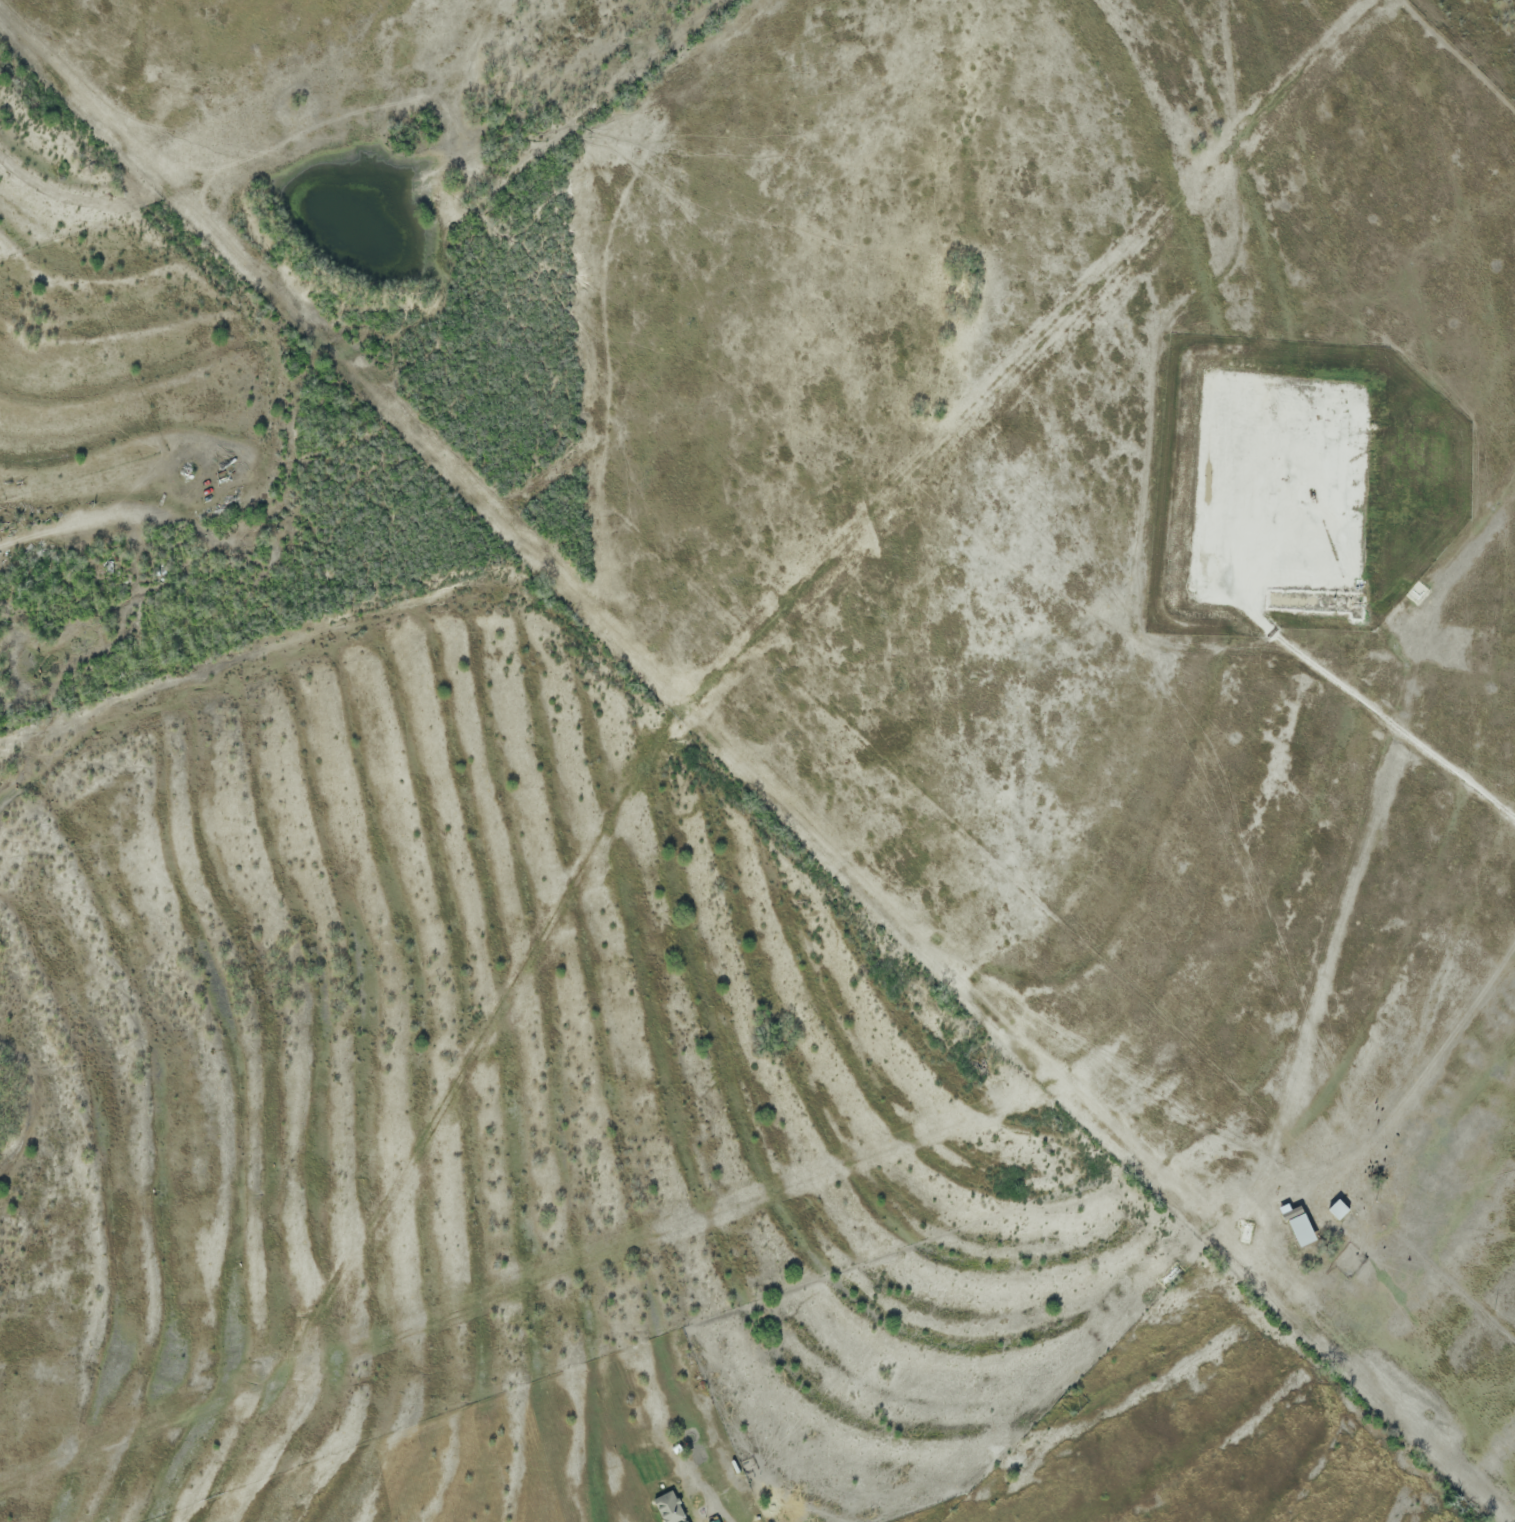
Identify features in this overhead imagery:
building: (1334, 1210)
building: (1297, 1230)

